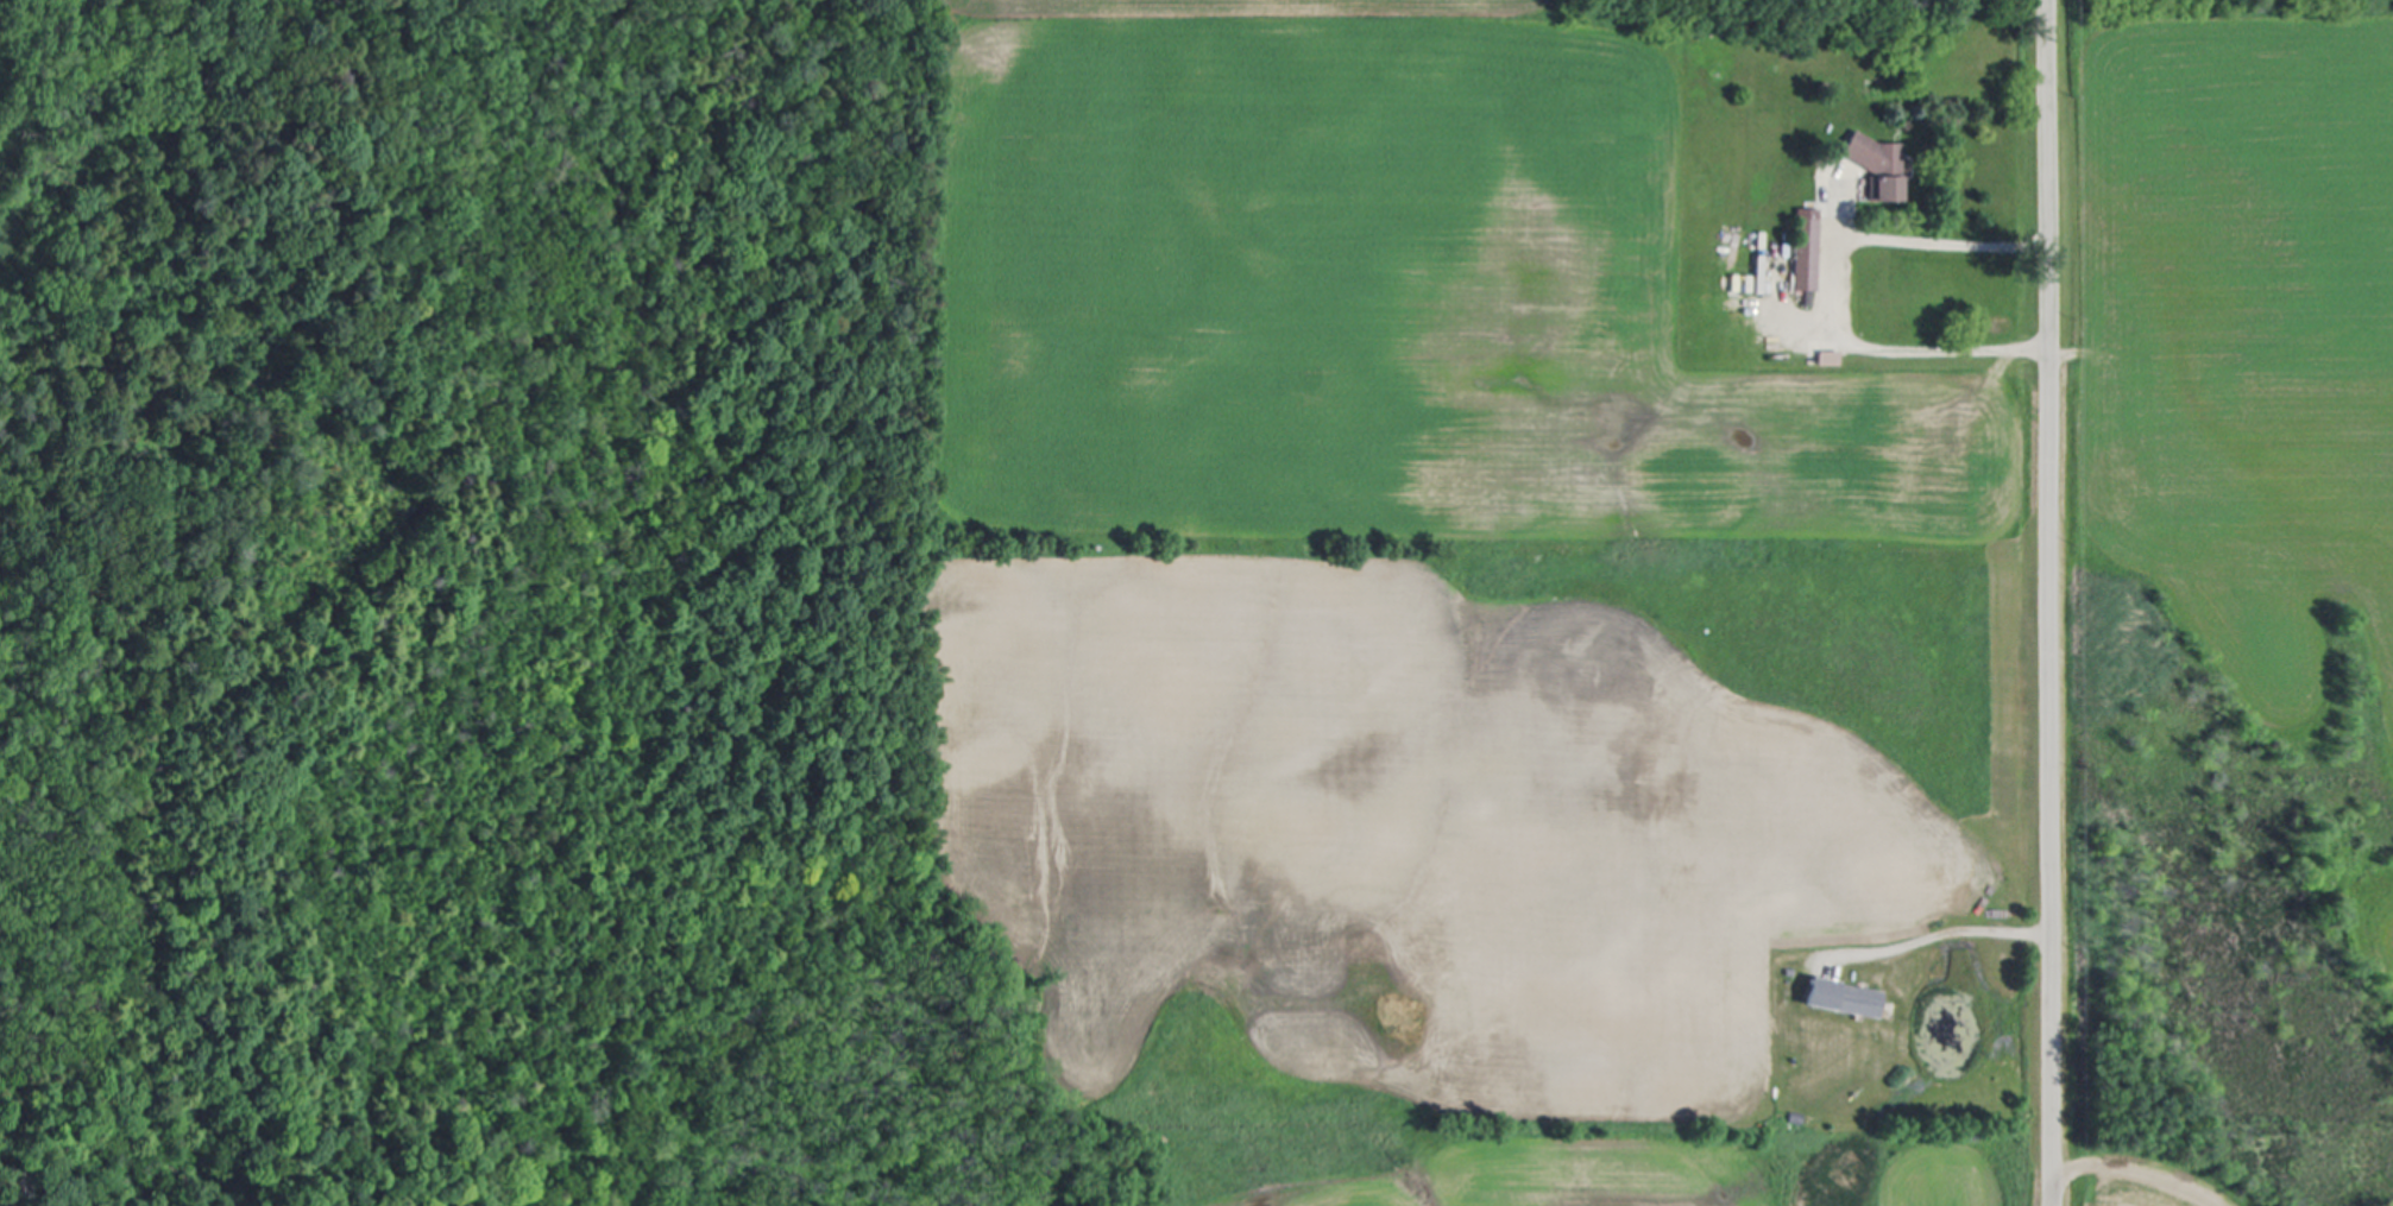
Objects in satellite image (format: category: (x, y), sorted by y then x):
building: (1882, 164)
building: (1807, 250)
building: (1762, 273)
road: (1841, 290)
road: (2051, 602)
road: (1940, 935)
building: (1850, 999)

